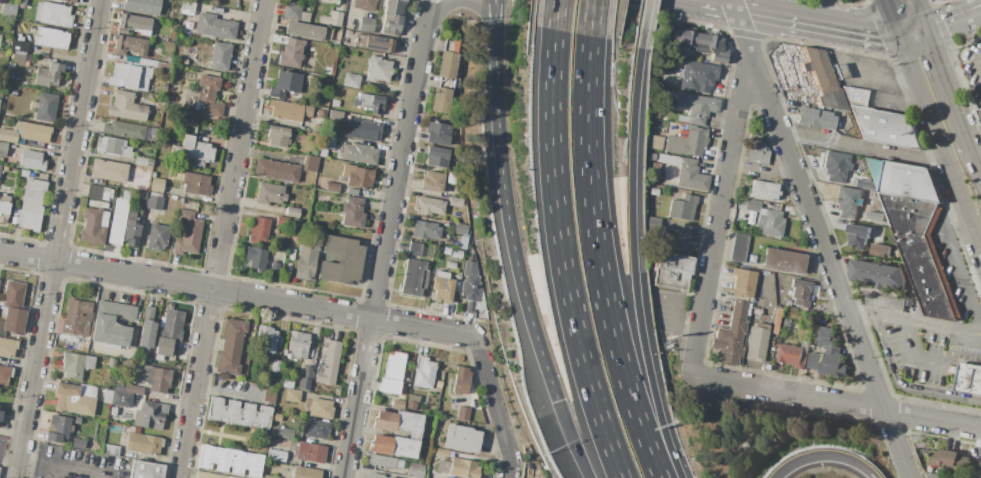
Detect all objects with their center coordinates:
building: (936, 0)
building: (68, 1)
building: (328, 2)
building: (21, 3)
road: (467, 3)
road: (710, 4)
building: (364, 5)
building: (142, 6)
building: (8, 8)
building: (187, 8)
road: (426, 10)
road: (742, 10)
building: (291, 11)
building: (38, 12)
road: (980, 13)
building: (55, 15)
building: (392, 16)
road: (555, 16)
road: (774, 16)
road: (916, 16)
building: (304, 17)
road: (496, 17)
road: (891, 18)
building: (332, 19)
road: (596, 20)
road: (643, 24)
building: (134, 25)
building: (366, 25)
road: (951, 25)
building: (215, 27)
road: (943, 28)
road: (880, 29)
road: (848, 30)
building: (306, 31)
traffic signals: (923, 33)
road: (910, 34)
traffic signals: (898, 36)
building: (0, 37)
building: (51, 38)
building: (697, 40)
building: (7, 42)
building: (373, 43)
building: (18, 46)
building: (129, 46)
building: (450, 47)
road: (496, 51)
building: (291, 53)
building: (18, 54)
road: (922, 54)
building: (220, 55)
building: (169, 60)
building: (311, 60)
building: (184, 61)
building: (447, 65)
building: (11, 66)
building: (378, 69)
building: (328, 71)
road: (880, 74)
building: (48, 75)
building: (130, 76)
building: (698, 77)
building: (310, 79)
building: (824, 79)
building: (351, 81)
building: (285, 84)
road: (944, 93)
road: (920, 95)
building: (209, 96)
building: (169, 99)
building: (441, 100)
building: (369, 103)
building: (335, 104)
building: (126, 107)
building: (696, 107)
building: (46, 108)
building: (288, 111)
building: (320, 113)
building: (839, 113)
building: (979, 113)
building: (336, 115)
building: (815, 118)
building: (683, 119)
building: (881, 123)
building: (293, 125)
building: (301, 127)
building: (124, 130)
building: (362, 130)
building: (25, 133)
building: (438, 133)
building: (277, 136)
building: (328, 141)
building: (656, 143)
building: (689, 143)
road: (862, 146)
building: (113, 147)
building: (2, 148)
building: (193, 149)
building: (756, 151)
building: (322, 152)
building: (359, 154)
building: (437, 156)
building: (653, 157)
building: (668, 159)
building: (0, 160)
building: (32, 160)
building: (143, 162)
building: (310, 163)
building: (835, 166)
building: (0, 168)
building: (655, 169)
building: (276, 170)
road: (974, 170)
building: (108, 171)
building: (24, 173)
building: (153, 175)
building: (357, 176)
building: (691, 176)
building: (179, 177)
building: (451, 178)
building: (905, 180)
building: (157, 182)
building: (433, 182)
building: (195, 183)
building: (864, 185)
building: (139, 186)
building: (332, 187)
building: (156, 189)
building: (763, 190)
building: (352, 192)
building: (654, 192)
building: (99, 193)
building: (155, 194)
building: (269, 194)
building: (140, 195)
building: (456, 202)
building: (848, 202)
building: (153, 203)
building: (742, 203)
road: (962, 204)
building: (752, 205)
building: (30, 206)
building: (430, 206)
building: (683, 207)
building: (4, 208)
building: (292, 212)
building: (352, 212)
building: (874, 216)
building: (117, 221)
building: (282, 221)
road: (719, 221)
building: (320, 222)
building: (769, 223)
building: (654, 224)
road: (511, 225)
building: (93, 226)
building: (461, 229)
building: (131, 230)
building: (258, 230)
building: (425, 230)
building: (188, 233)
building: (858, 236)
building: (156, 237)
building: (674, 237)
road: (58, 238)
road: (221, 238)
road: (822, 238)
building: (443, 241)
building: (895, 241)
building: (463, 243)
building: (738, 248)
road: (384, 249)
building: (414, 249)
building: (447, 250)
building: (880, 250)
building: (899, 253)
building: (922, 253)
building: (457, 254)
building: (256, 259)
road: (563, 259)
building: (341, 261)
building: (783, 261)
building: (305, 262)
road: (957, 263)
road: (601, 264)
road: (635, 264)
building: (451, 265)
building: (274, 269)
building: (671, 271)
building: (442, 275)
building: (878, 275)
building: (414, 278)
building: (458, 279)
building: (0, 281)
building: (743, 282)
building: (470, 285)
building: (443, 289)
building: (800, 293)
building: (482, 303)
road: (300, 306)
building: (13, 308)
road: (671, 310)
building: (757, 311)
building: (76, 318)
road: (902, 322)
building: (114, 324)
building: (786, 324)
building: (761, 326)
building: (147, 328)
building: (817, 330)
road: (968, 330)
road: (771, 333)
building: (169, 334)
building: (731, 334)
building: (265, 340)
building: (756, 343)
building: (298, 344)
building: (230, 346)
building: (7, 347)
parking lot: (931, 352)
building: (794, 354)
building: (828, 356)
building: (148, 360)
road: (930, 362)
building: (112, 363)
building: (328, 364)
building: (75, 365)
building: (275, 366)
building: (952, 369)
building: (307, 372)
building: (393, 373)
building: (423, 373)
building: (146, 374)
building: (5, 375)
building: (969, 379)
building: (160, 380)
building: (461, 380)
building: (304, 384)
building: (438, 384)
building: (289, 385)
road: (905, 386)
building: (118, 387)
building: (132, 389)
road: (554, 389)
building: (402, 390)
building: (269, 394)
building: (292, 396)
building: (107, 397)
building: (412, 398)
building: (73, 399)
building: (120, 399)
road: (836, 402)
building: (398, 404)
building: (411, 406)
building: (320, 409)
building: (1, 411)
building: (239, 413)
building: (463, 413)
building: (152, 415)
building: (76, 420)
building: (400, 422)
building: (58, 428)
building: (316, 428)
building: (136, 430)
road: (979, 432)
building: (283, 433)
building: (461, 439)
road: (573, 439)
building: (78, 444)
building: (143, 444)
building: (394, 446)
building: (110, 450)
road: (9, 451)
building: (310, 452)
building: (441, 453)
building: (276, 455)
road: (825, 458)
building: (949, 459)
building: (231, 461)
building: (381, 461)
road: (66, 464)
building: (443, 467)
building: (464, 468)
road: (510, 469)
building: (146, 470)
building: (415, 472)
building: (306, 473)
building: (207, 475)
building: (375, 475)
building: (440, 475)
parking lot: (938, 475)
building: (62, 476)
building: (268, 476)
building: (55, 477)
building: (229, 477)

